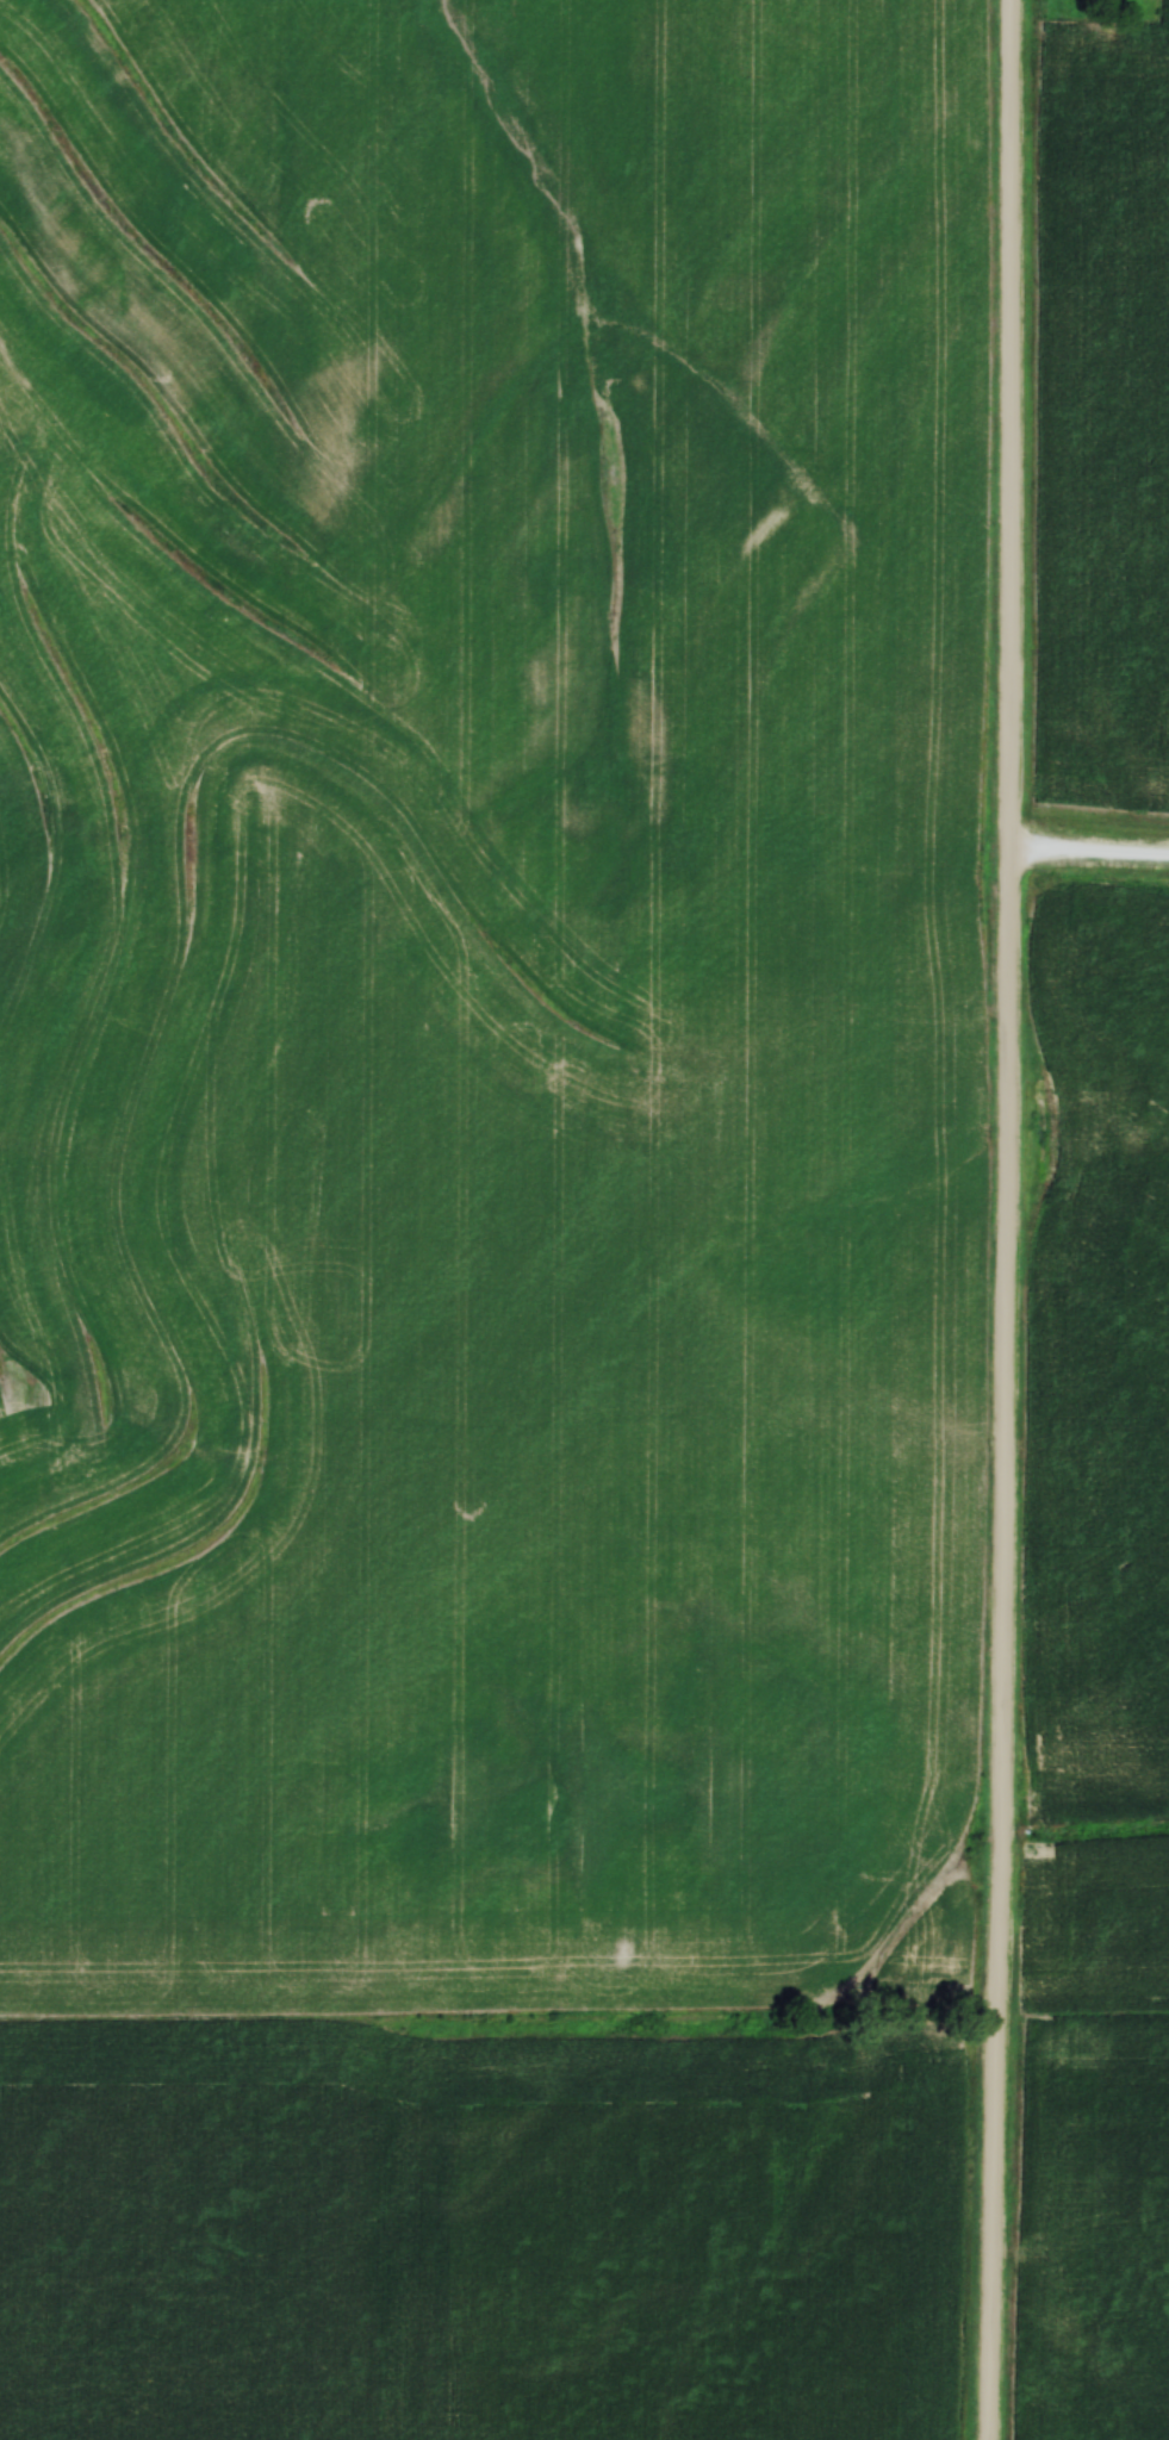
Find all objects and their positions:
road: (1087, 863)
road: (1000, 1220)

